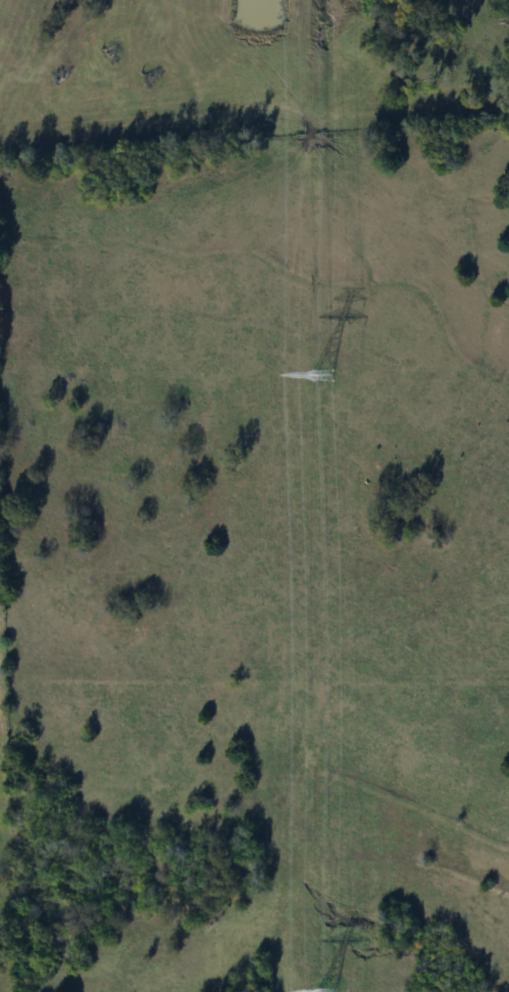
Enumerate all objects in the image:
power tower: (320, 376)

